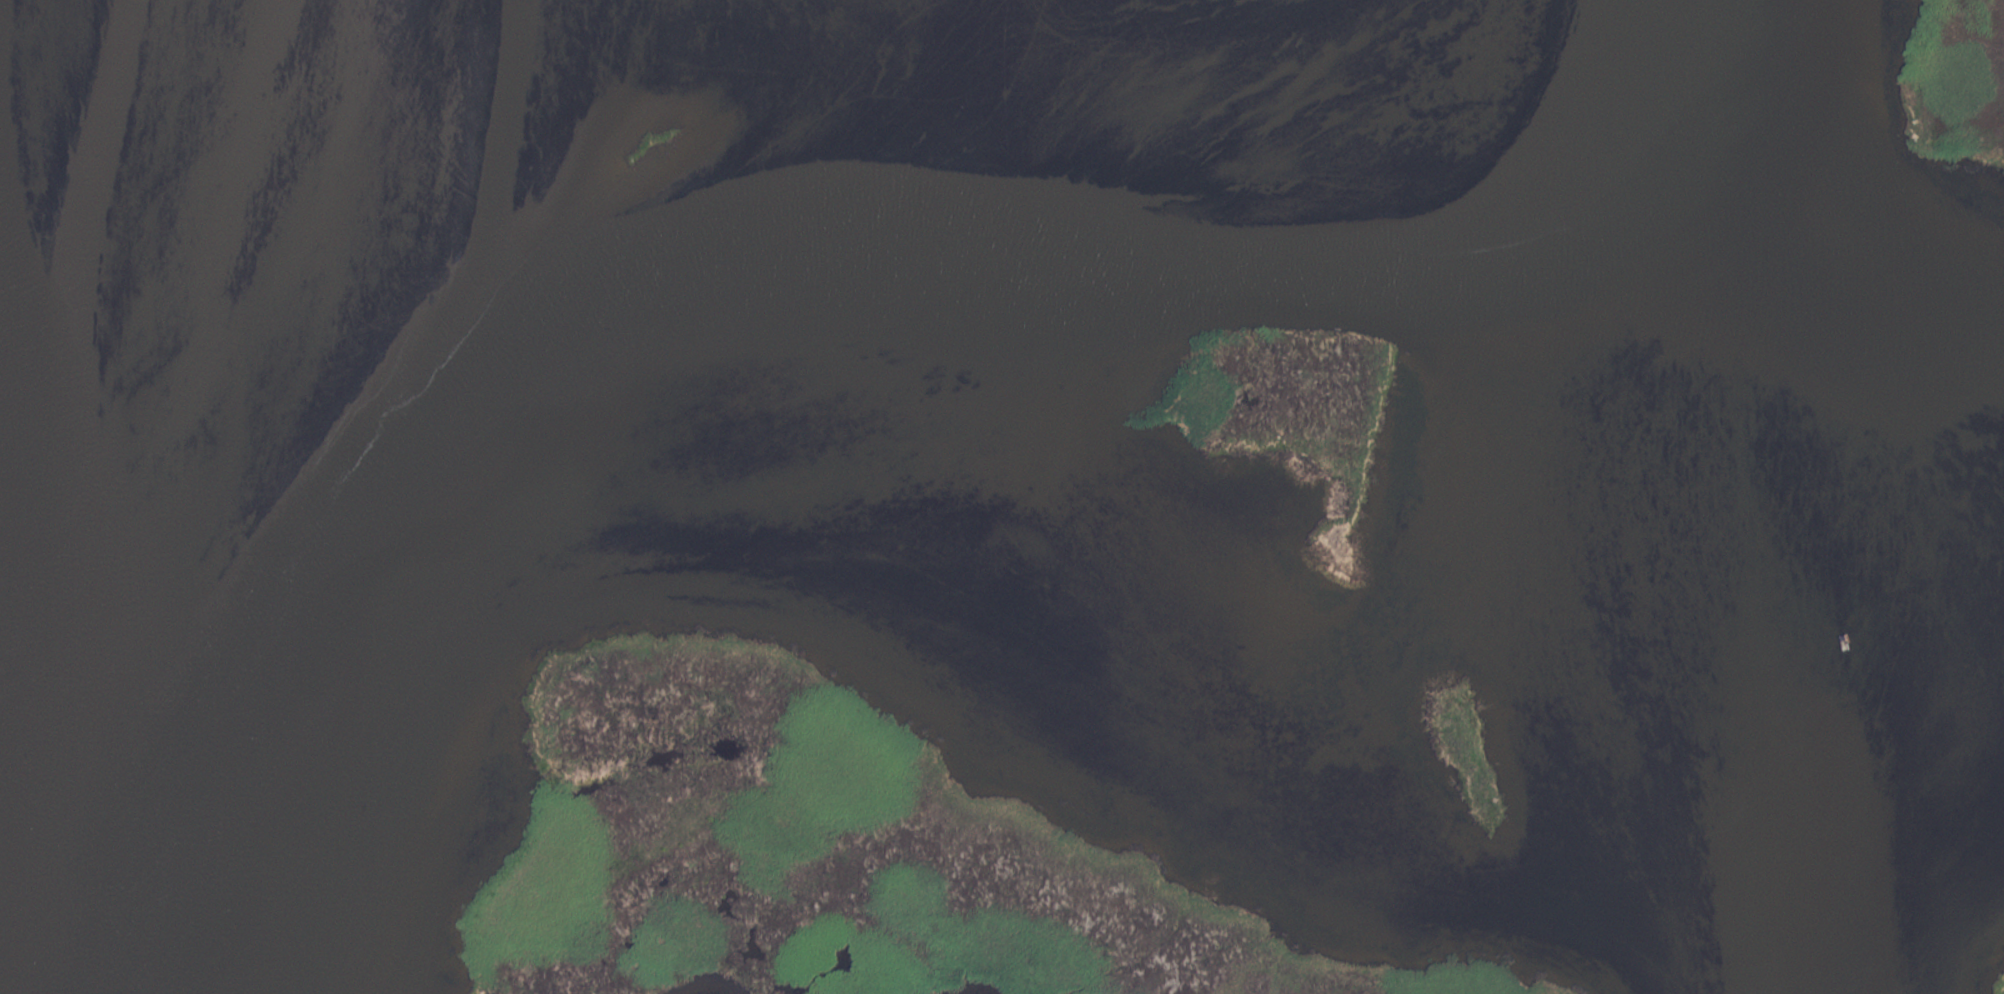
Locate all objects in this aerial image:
river: (784, 258)

